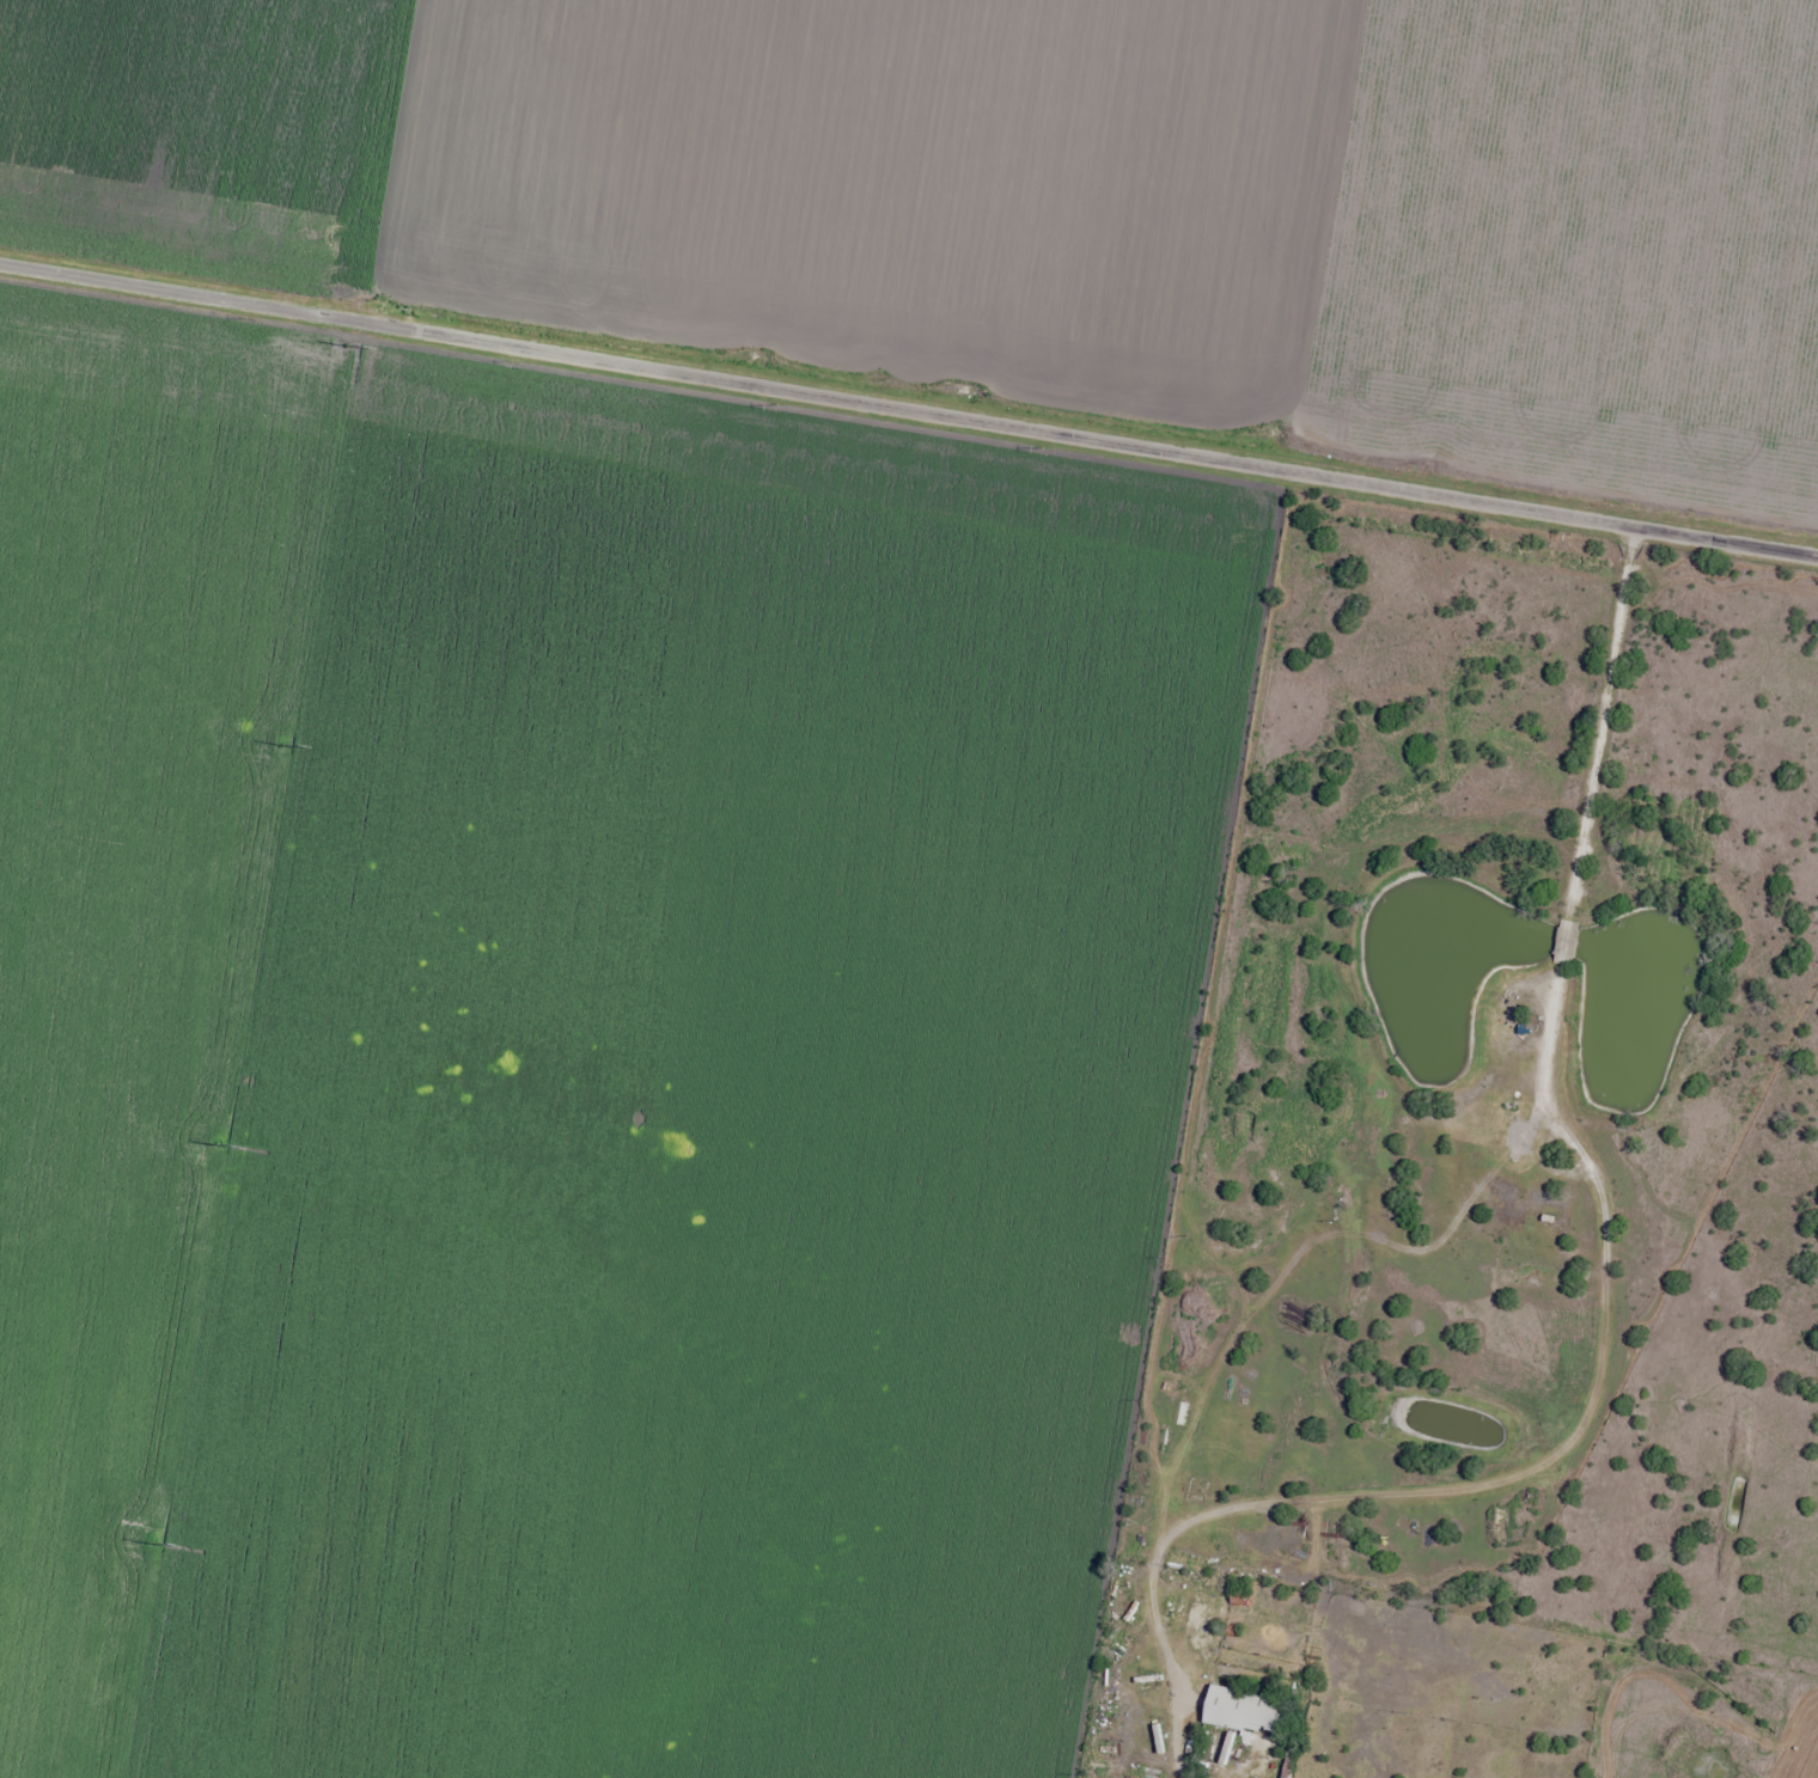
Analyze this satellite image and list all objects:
power tower: (349, 349)
road: (909, 410)
power tower: (285, 747)
power tower: (219, 1145)
power tower: (154, 1545)
building: (1247, 1711)

